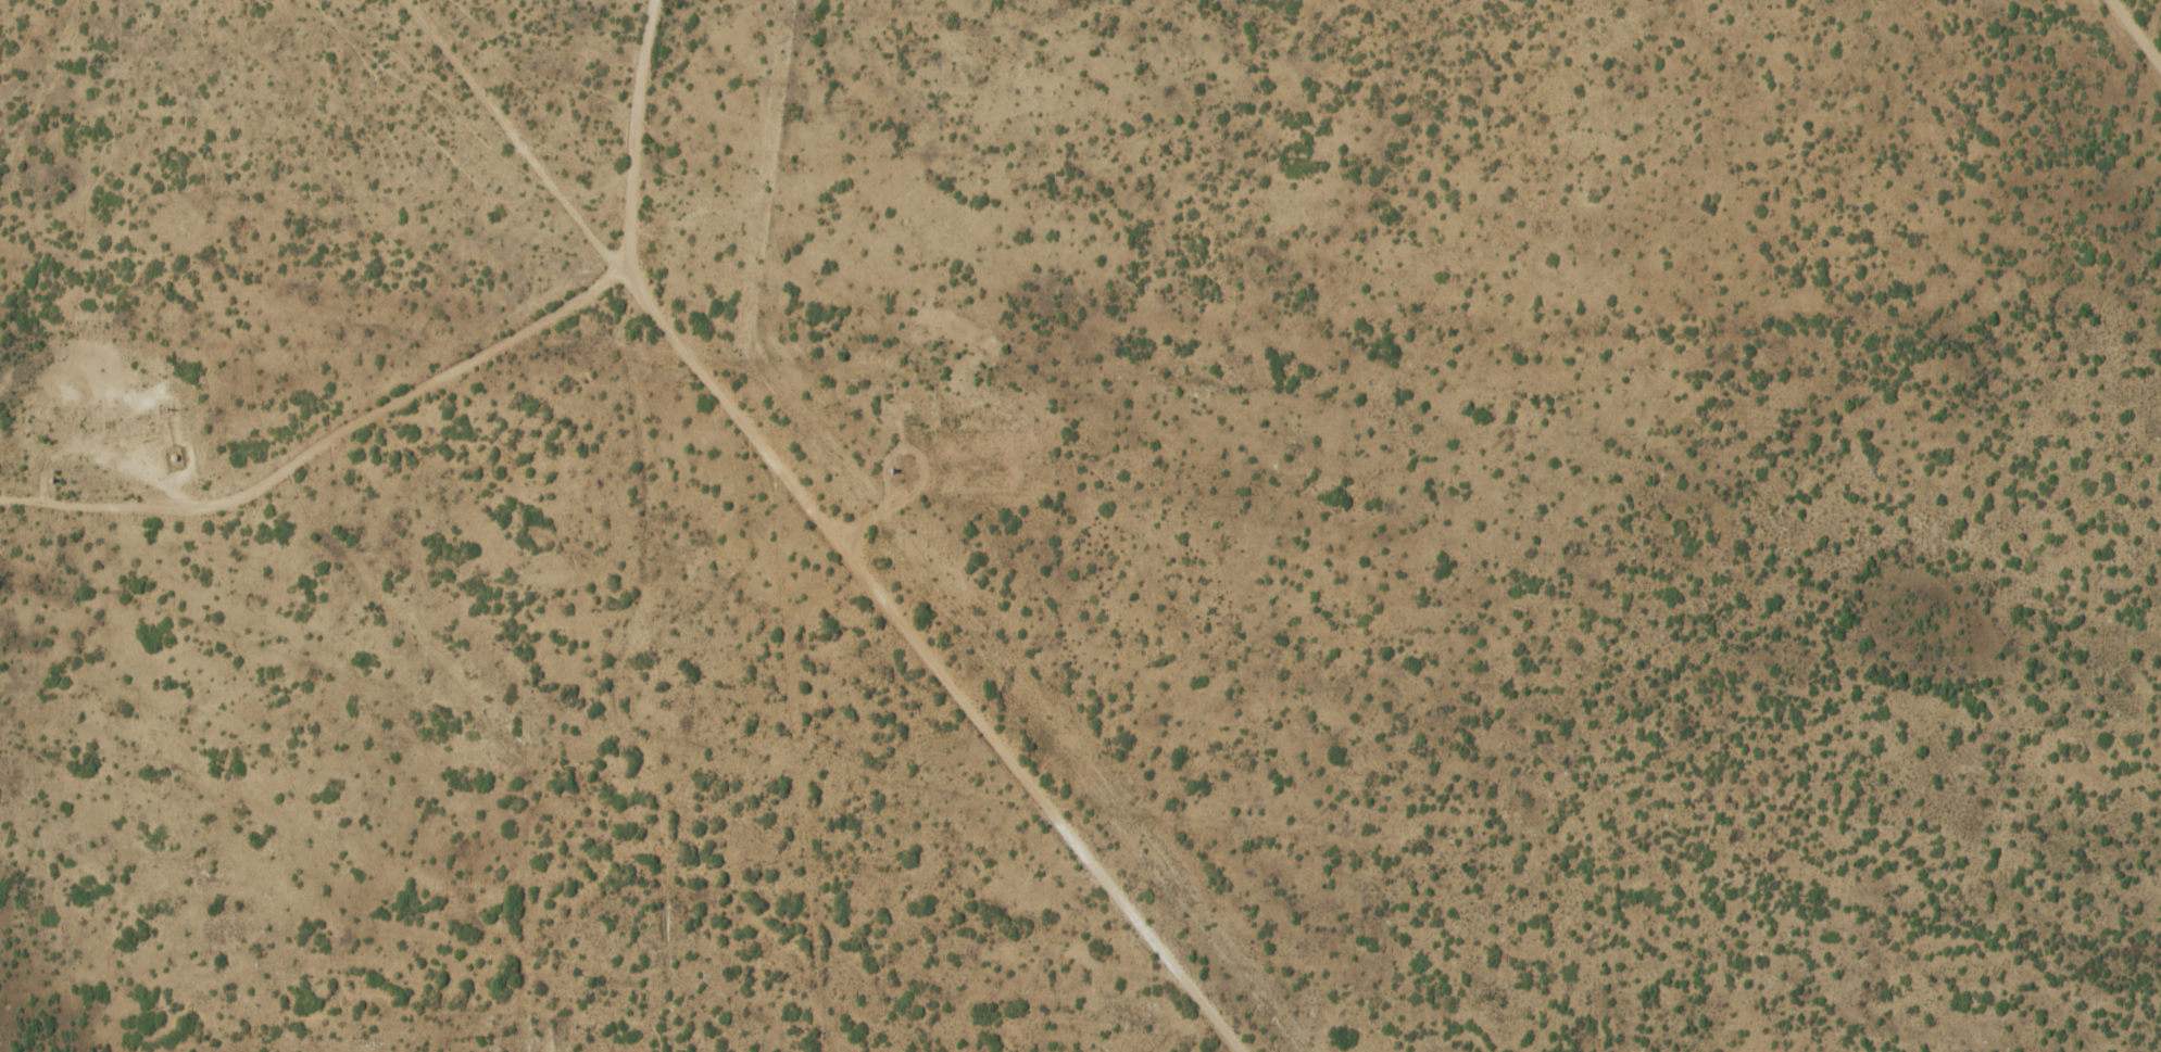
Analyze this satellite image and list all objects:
road: (2138, 30)
road: (62, 134)
road: (645, 504)
road: (843, 557)

